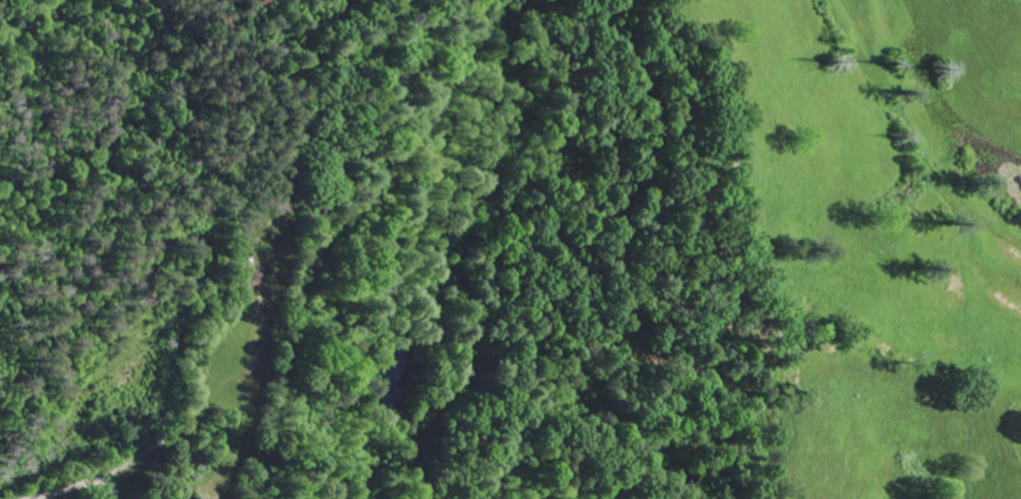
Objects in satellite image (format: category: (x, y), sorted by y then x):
park: (1016, 429)
building: (200, 498)

